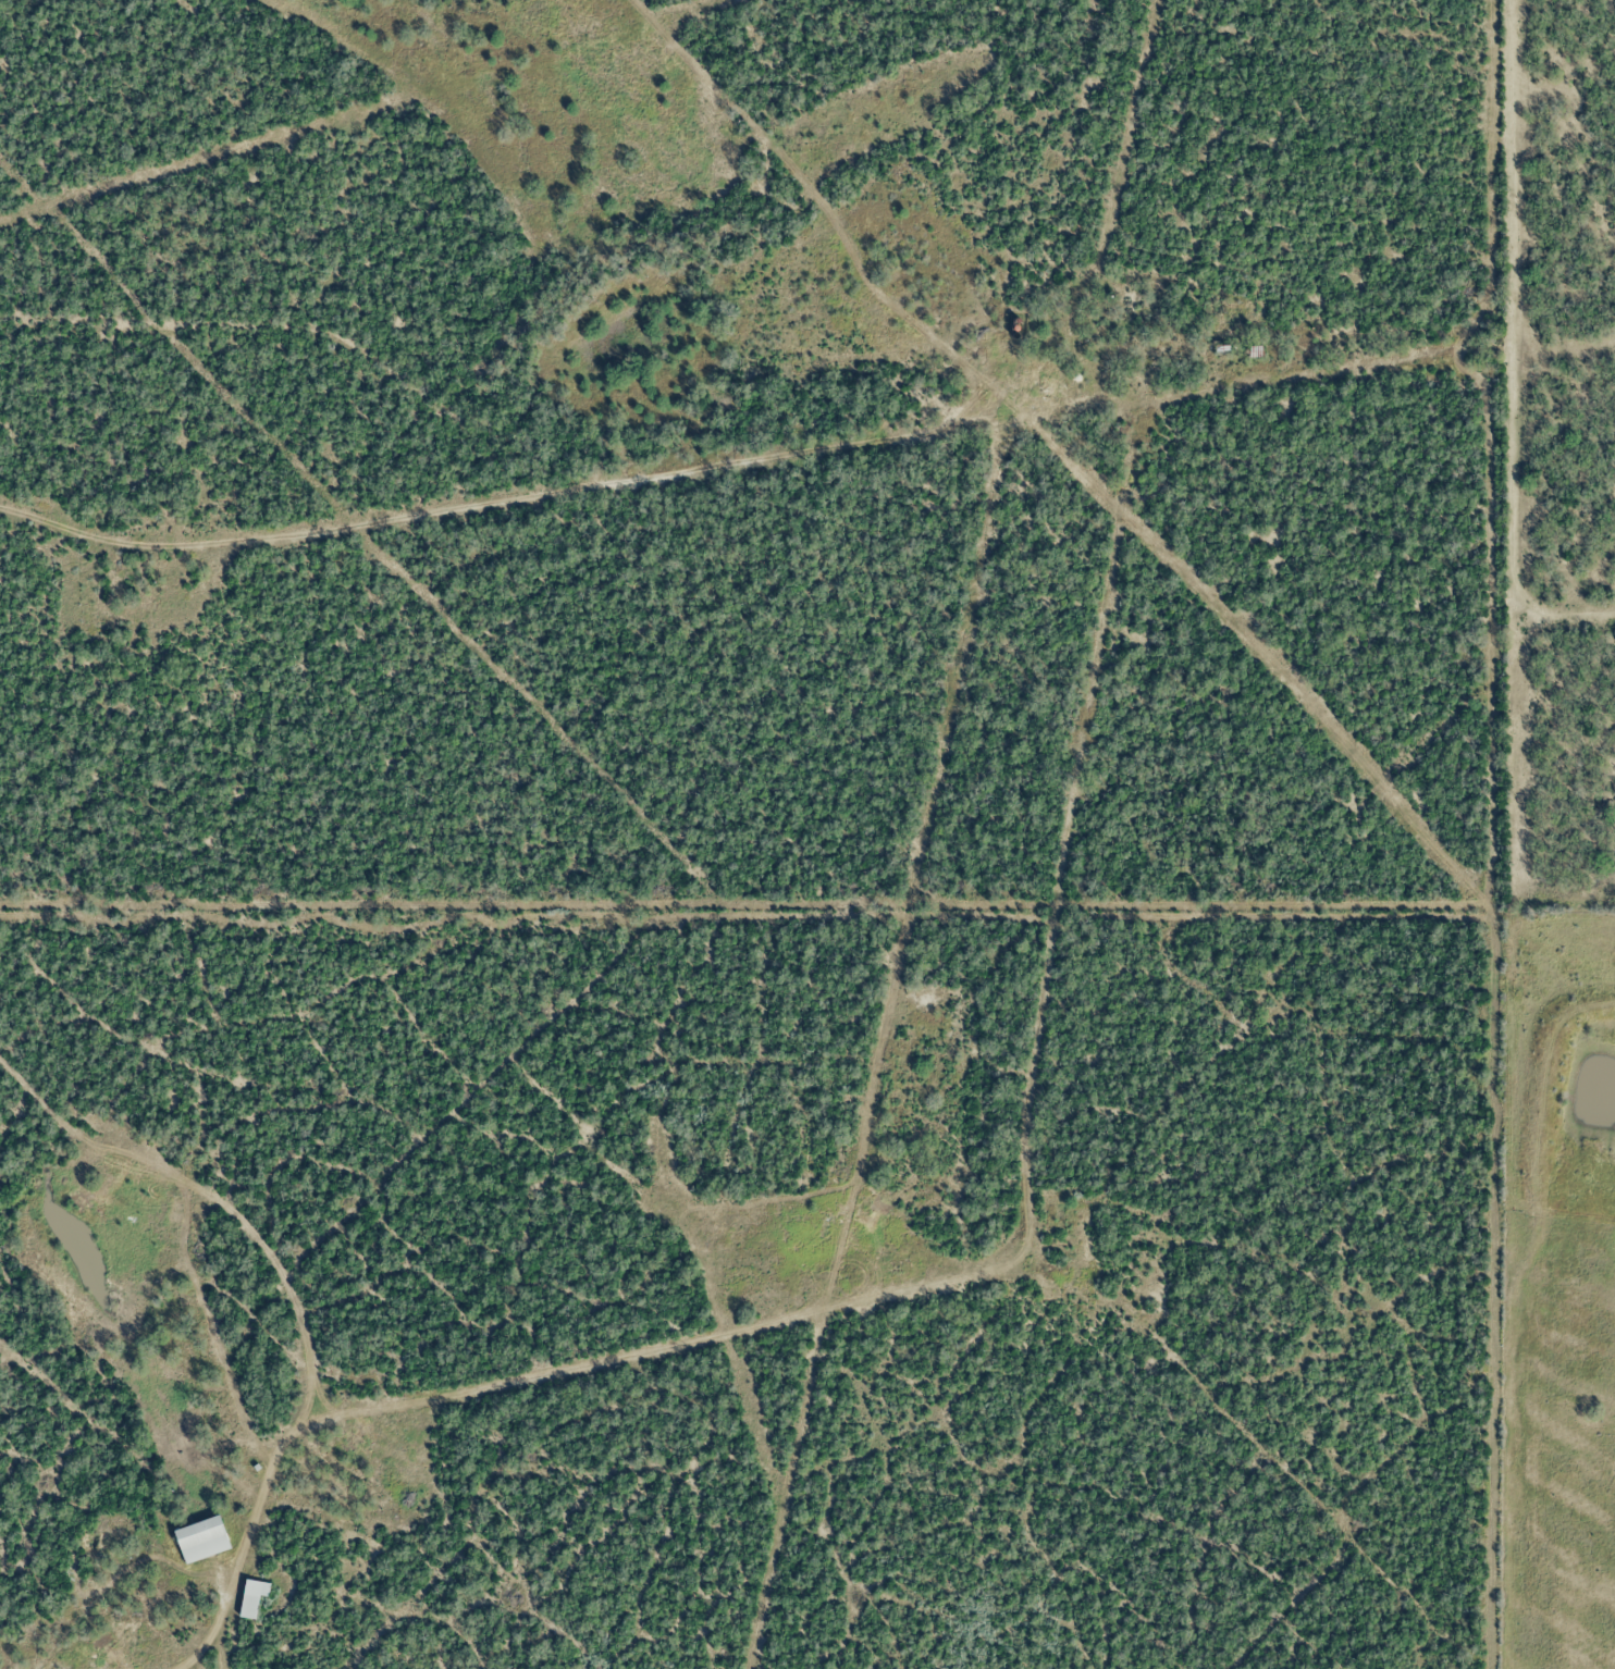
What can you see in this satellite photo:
building: (200, 1540)
building: (252, 1596)

